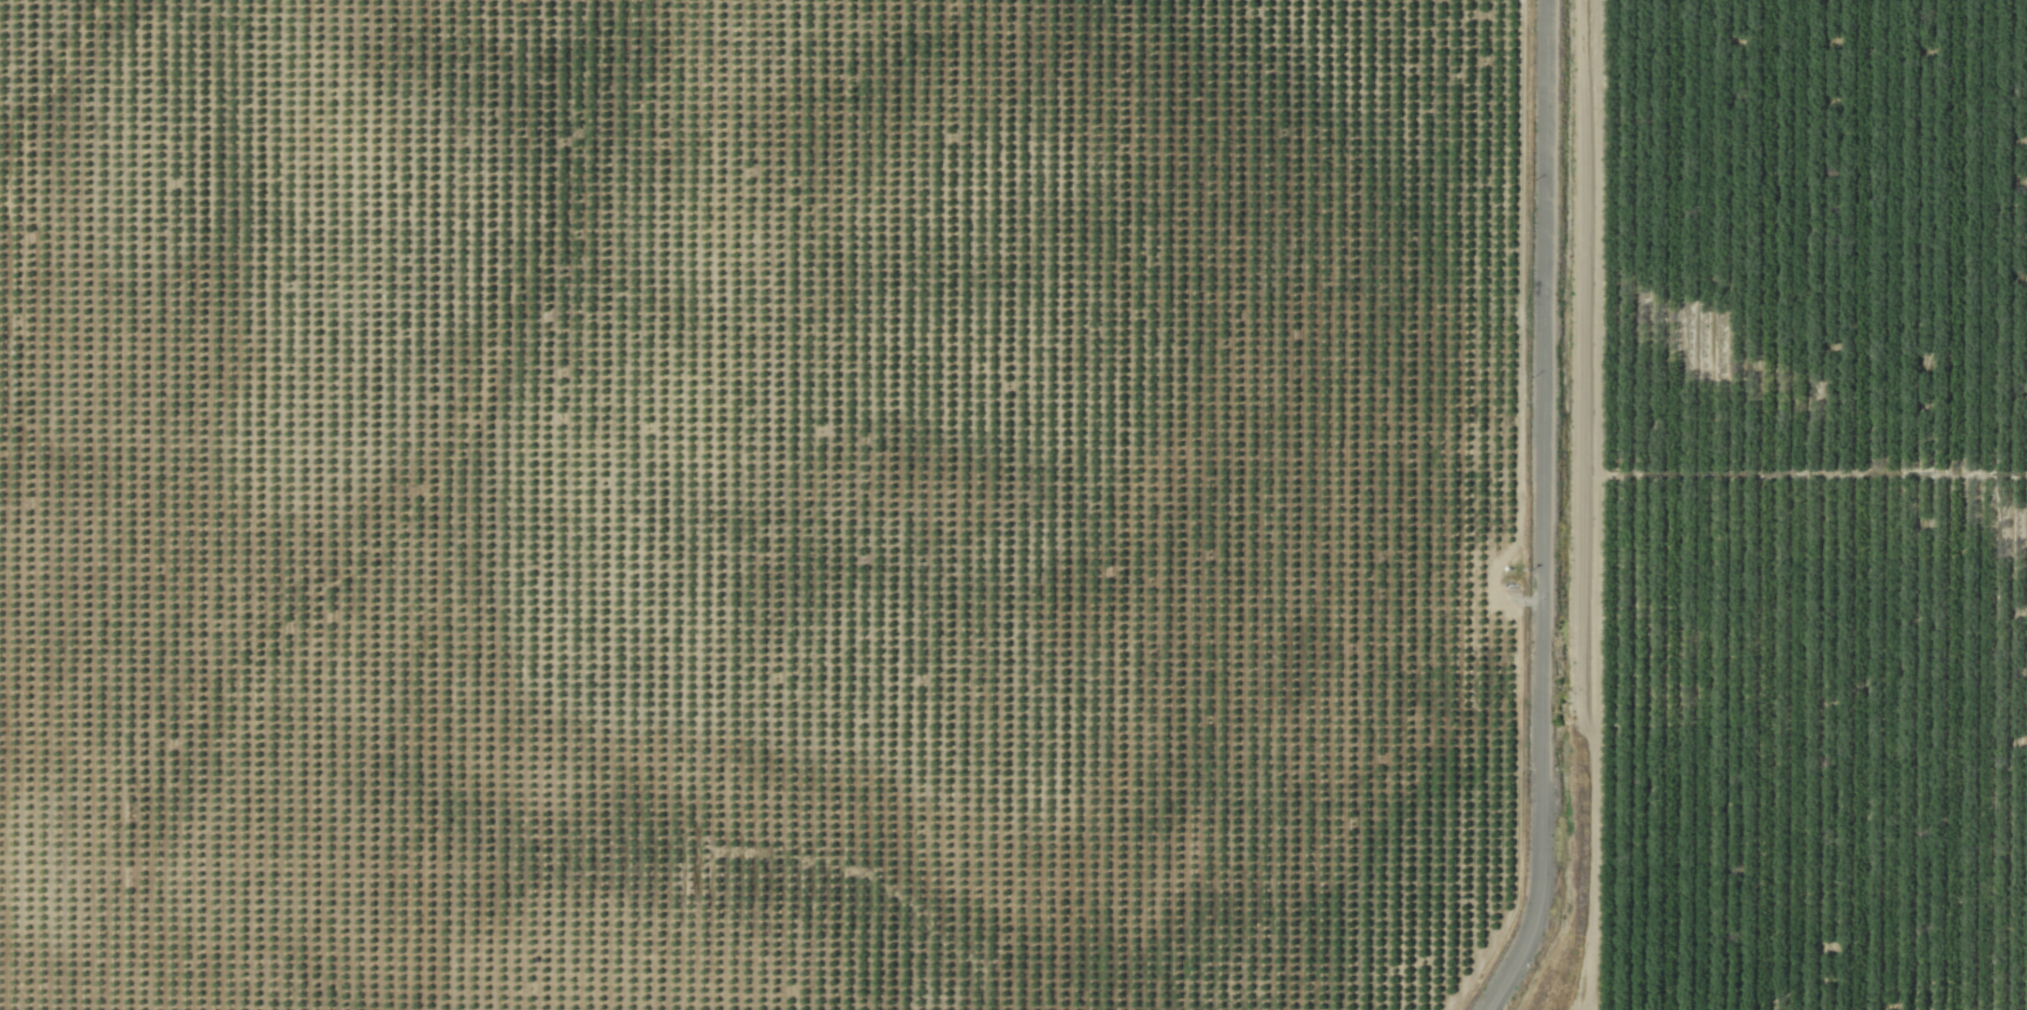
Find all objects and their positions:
road: (1542, 511)

